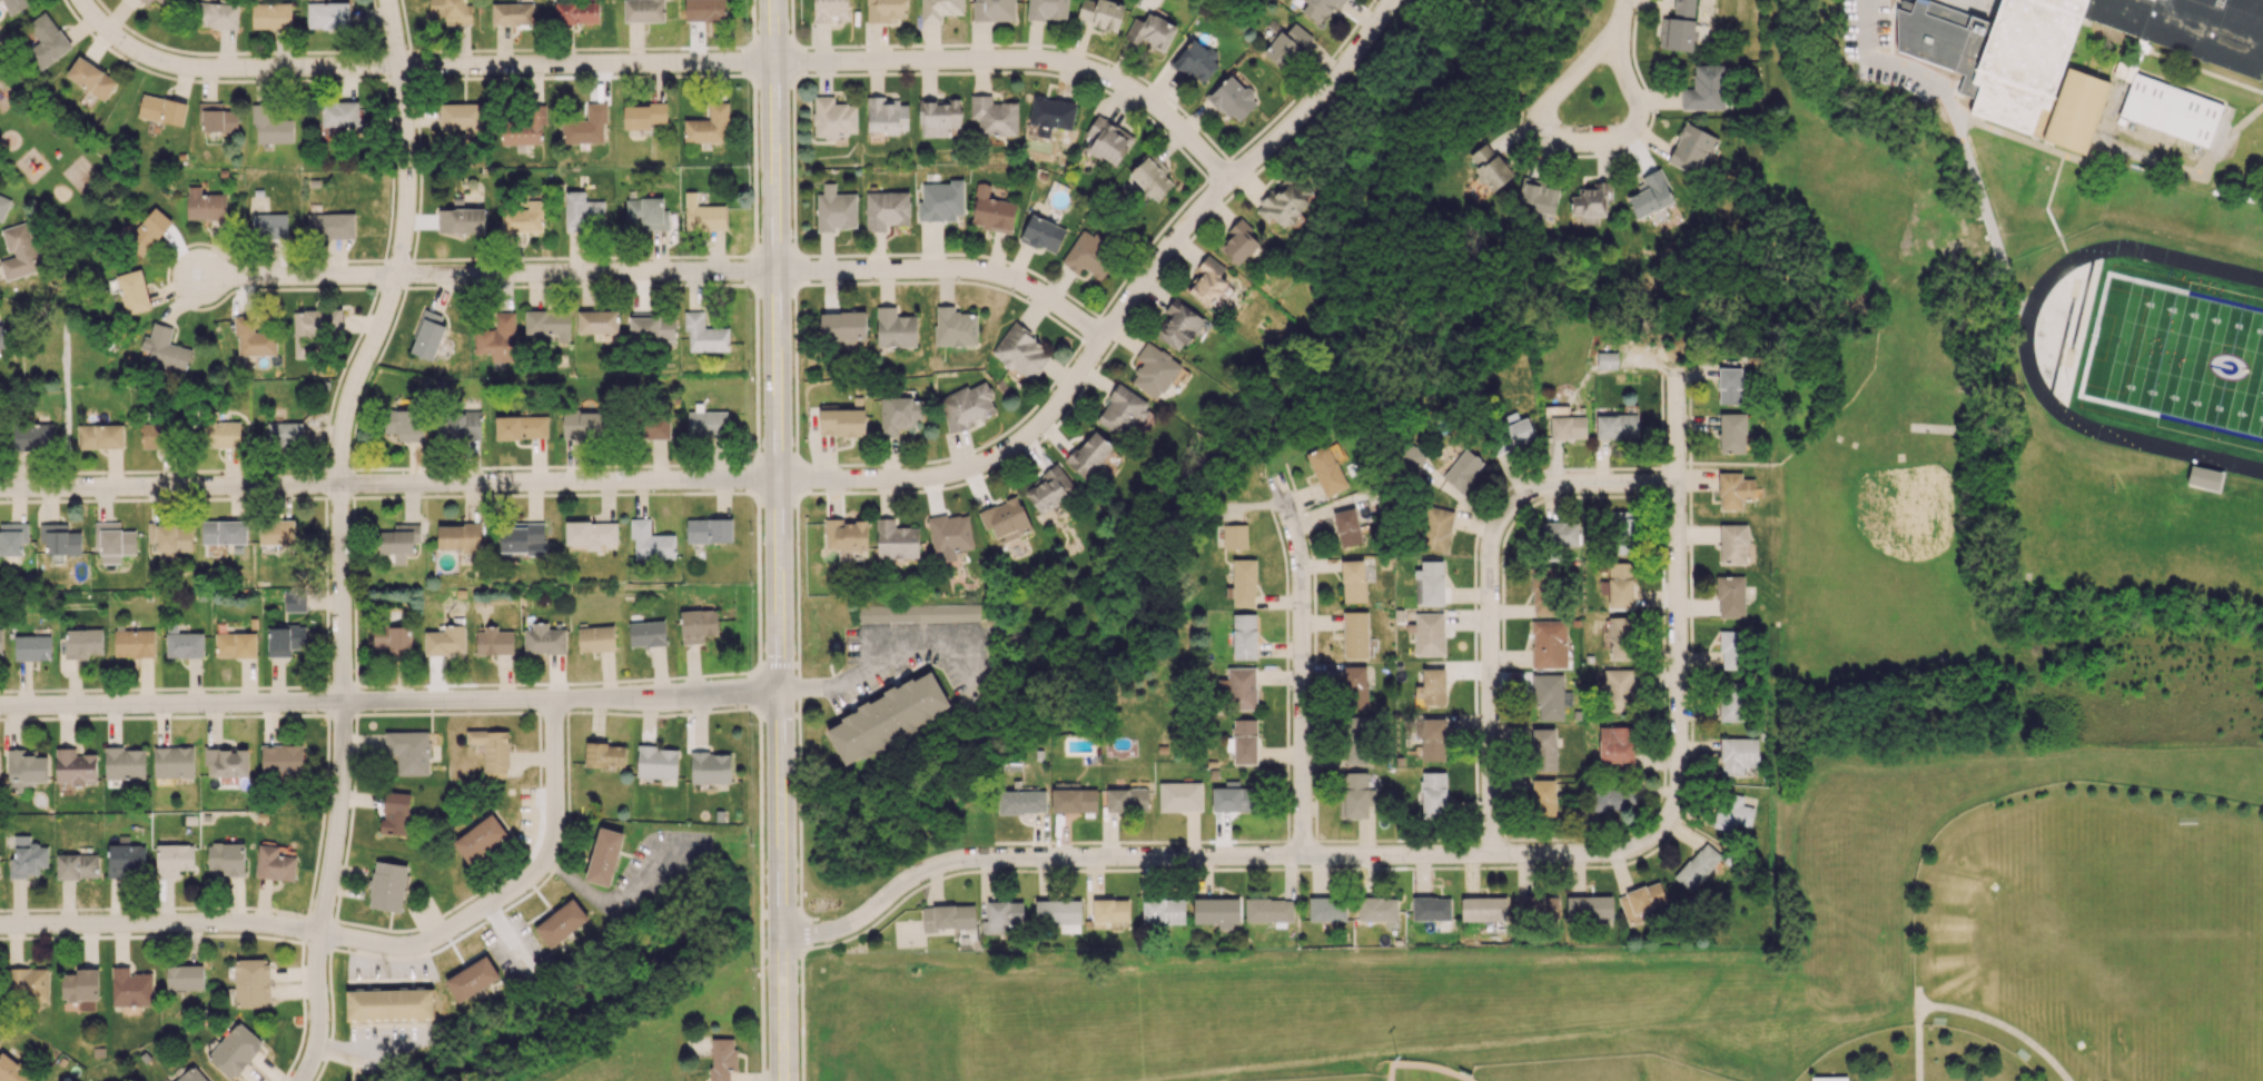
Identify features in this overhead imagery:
building: (147, 1)
building: (165, 2)
building: (14, 6)
building: (1320, 8)
building: (939, 9)
building: (1047, 9)
building: (451, 10)
building: (643, 10)
building: (704, 10)
building: (830, 10)
building: (885, 10)
building: (994, 10)
building: (575, 11)
building: (512, 13)
building: (1100, 13)
building: (215, 14)
building: (270, 16)
building: (327, 16)
road: (1619, 23)
building: (1678, 27)
building: (1150, 32)
parking lot: (1893, 39)
building: (46, 40)
building: (1285, 44)
road: (1027, 60)
road: (415, 68)
building: (90, 78)
building: (2038, 81)
building: (1707, 88)
building: (1232, 98)
road: (1316, 101)
road: (1948, 106)
road: (121, 108)
building: (161, 110)
building: (339, 113)
building: (642, 115)
building: (1050, 115)
road: (49, 116)
building: (888, 116)
building: (940, 116)
building: (994, 116)
building: (217, 118)
building: (462, 118)
building: (833, 118)
building: (270, 126)
building: (586, 126)
building: (709, 126)
building: (523, 127)
road: (1545, 132)
building: (1108, 140)
building: (1691, 147)
building: (1490, 167)
building: (1150, 176)
road: (32, 190)
building: (1651, 195)
building: (1539, 197)
building: (940, 200)
building: (1591, 201)
building: (1283, 205)
building: (3, 206)
building: (205, 207)
building: (834, 209)
building: (886, 209)
building: (582, 210)
building: (991, 210)
building: (646, 212)
building: (702, 215)
building: (523, 218)
road: (75, 219)
building: (461, 220)
building: (268, 225)
building: (330, 225)
building: (148, 230)
building: (1042, 234)
building: (1237, 242)
building: (19, 251)
building: (1088, 255)
park: (73, 257)
road: (1160, 264)
road: (950, 272)
road: (589, 275)
road: (295, 276)
building: (1205, 285)
building: (132, 291)
road: (33, 296)
road: (67, 311)
building: (597, 321)
building: (547, 324)
building: (1178, 325)
building: (842, 326)
building: (955, 327)
building: (314, 328)
building: (651, 328)
building: (895, 328)
building: (427, 335)
building: (704, 335)
building: (253, 338)
building: (497, 339)
building: (1, 340)
road: (2024, 343)
building: (166, 348)
building: (1021, 353)
building: (1607, 359)
park: (2180, 360)
building: (1154, 370)
building: (1729, 385)
road: (66, 405)
building: (967, 406)
building: (1123, 410)
building: (899, 414)
building: (705, 422)
building: (842, 422)
building: (459, 423)
building: (403, 424)
building: (584, 424)
building: (1617, 426)
building: (521, 427)
building: (1568, 427)
building: (655, 428)
building: (1509, 433)
building: (1732, 433)
building: (220, 434)
building: (284, 434)
building: (32, 435)
building: (155, 435)
building: (101, 436)
building: (1088, 454)
park: (1848, 459)
road: (339, 460)
park: (1827, 465)
building: (1325, 469)
building: (1462, 469)
road: (967, 470)
building: (2204, 479)
road: (388, 485)
road: (1531, 488)
building: (1733, 489)
building: (1007, 518)
building: (1363, 520)
building: (1346, 527)
building: (1435, 528)
building: (709, 529)
building: (224, 532)
building: (276, 532)
building: (1621, 532)
building: (846, 534)
building: (1559, 534)
building: (590, 535)
building: (458, 536)
building: (949, 536)
building: (1234, 536)
building: (12, 537)
building: (522, 537)
building: (60, 538)
building: (169, 539)
road: (779, 539)
building: (896, 539)
building: (650, 540)
building: (112, 542)
building: (398, 542)
building: (1732, 544)
park: (1877, 549)
building: (1353, 581)
building: (1244, 582)
building: (1430, 583)
building: (1619, 585)
building: (1543, 592)
building: (1730, 596)
road: (1677, 599)
building: (294, 602)
building: (918, 613)
building: (696, 625)
building: (646, 633)
building: (1354, 634)
building: (1429, 634)
building: (1244, 636)
building: (1620, 637)
building: (595, 638)
building: (285, 639)
building: (393, 639)
building: (544, 639)
building: (0, 641)
building: (445, 641)
building: (494, 641)
building: (82, 642)
building: (134, 643)
building: (182, 643)
building: (1548, 643)
building: (235, 645)
building: (32, 647)
building: (1732, 649)
road: (777, 664)
road: (1301, 664)
road: (870, 667)
road: (693, 675)
building: (1355, 686)
building: (1241, 688)
building: (1431, 688)
building: (1615, 690)
road: (750, 691)
building: (1549, 696)
road: (389, 701)
building: (1731, 702)
road: (571, 711)
road: (553, 713)
building: (888, 716)
road: (1490, 735)
building: (1432, 738)
building: (1244, 741)
building: (1353, 741)
building: (1615, 744)
building: (1543, 748)
building: (408, 751)
building: (492, 751)
building: (1737, 754)
building: (604, 755)
building: (281, 760)
building: (172, 762)
building: (227, 762)
building: (656, 762)
building: (125, 763)
building: (26, 766)
building: (75, 767)
building: (710, 767)
building: (1433, 794)
building: (1353, 795)
building: (1179, 796)
building: (1543, 796)
building: (1233, 797)
building: (1610, 799)
building: (1074, 800)
building: (1126, 800)
building: (1021, 801)
building: (1731, 812)
building: (395, 813)
building: (480, 837)
road: (1213, 854)
building: (604, 856)
building: (27, 857)
building: (226, 857)
building: (174, 859)
building: (125, 860)
building: (274, 863)
building: (77, 865)
building: (1697, 866)
building: (387, 885)
road: (511, 889)
building: (1641, 902)
building: (1589, 908)
building: (1326, 909)
building: (1377, 909)
building: (1431, 909)
building: (1483, 909)
building: (1535, 909)
building: (1109, 910)
building: (1163, 910)
building: (1268, 910)
building: (1216, 911)
building: (1058, 914)
building: (1001, 916)
building: (948, 918)
road: (159, 922)
building: (561, 922)
park: (2068, 932)
park: (2184, 956)
building: (185, 976)
building: (472, 979)
building: (251, 982)
building: (27, 984)
building: (80, 984)
building: (130, 988)
building: (388, 1004)
road: (317, 1009)
building: (1939, 1020)
building: (235, 1050)
building: (2023, 1054)
building: (721, 1058)
building: (11, 1070)
building: (194, 1074)
road: (758, 1078)
building: (1829, 1079)

